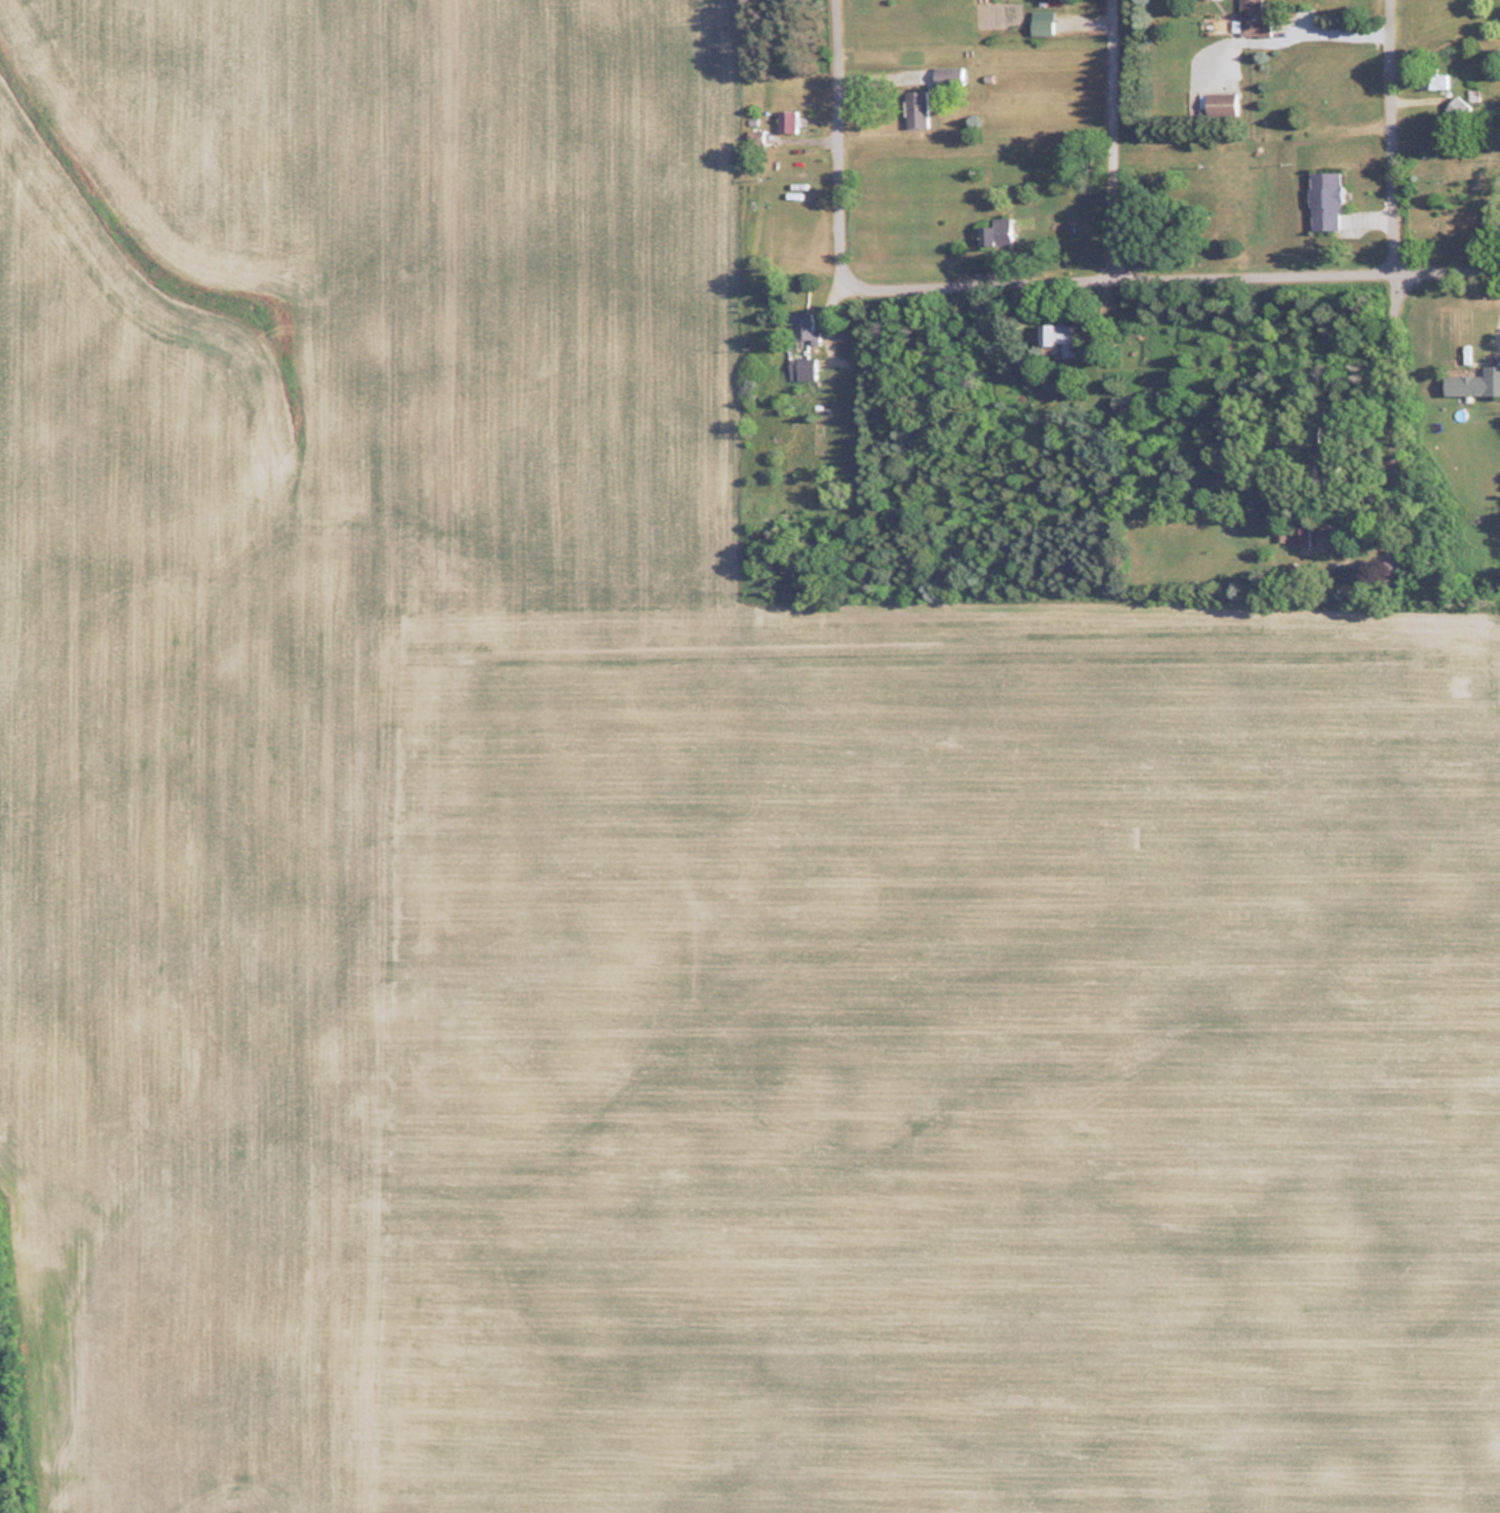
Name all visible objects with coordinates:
building: (1252, 18)
building: (1039, 26)
road: (1338, 31)
building: (1434, 80)
building: (1218, 103)
building: (914, 108)
building: (785, 120)
road: (839, 141)
road: (1113, 143)
building: (1323, 200)
building: (997, 232)
road: (1398, 265)
road: (1172, 284)
building: (802, 327)
building: (1057, 336)
building: (801, 368)
building: (1473, 381)
building: (1300, 535)
building: (1320, 535)

